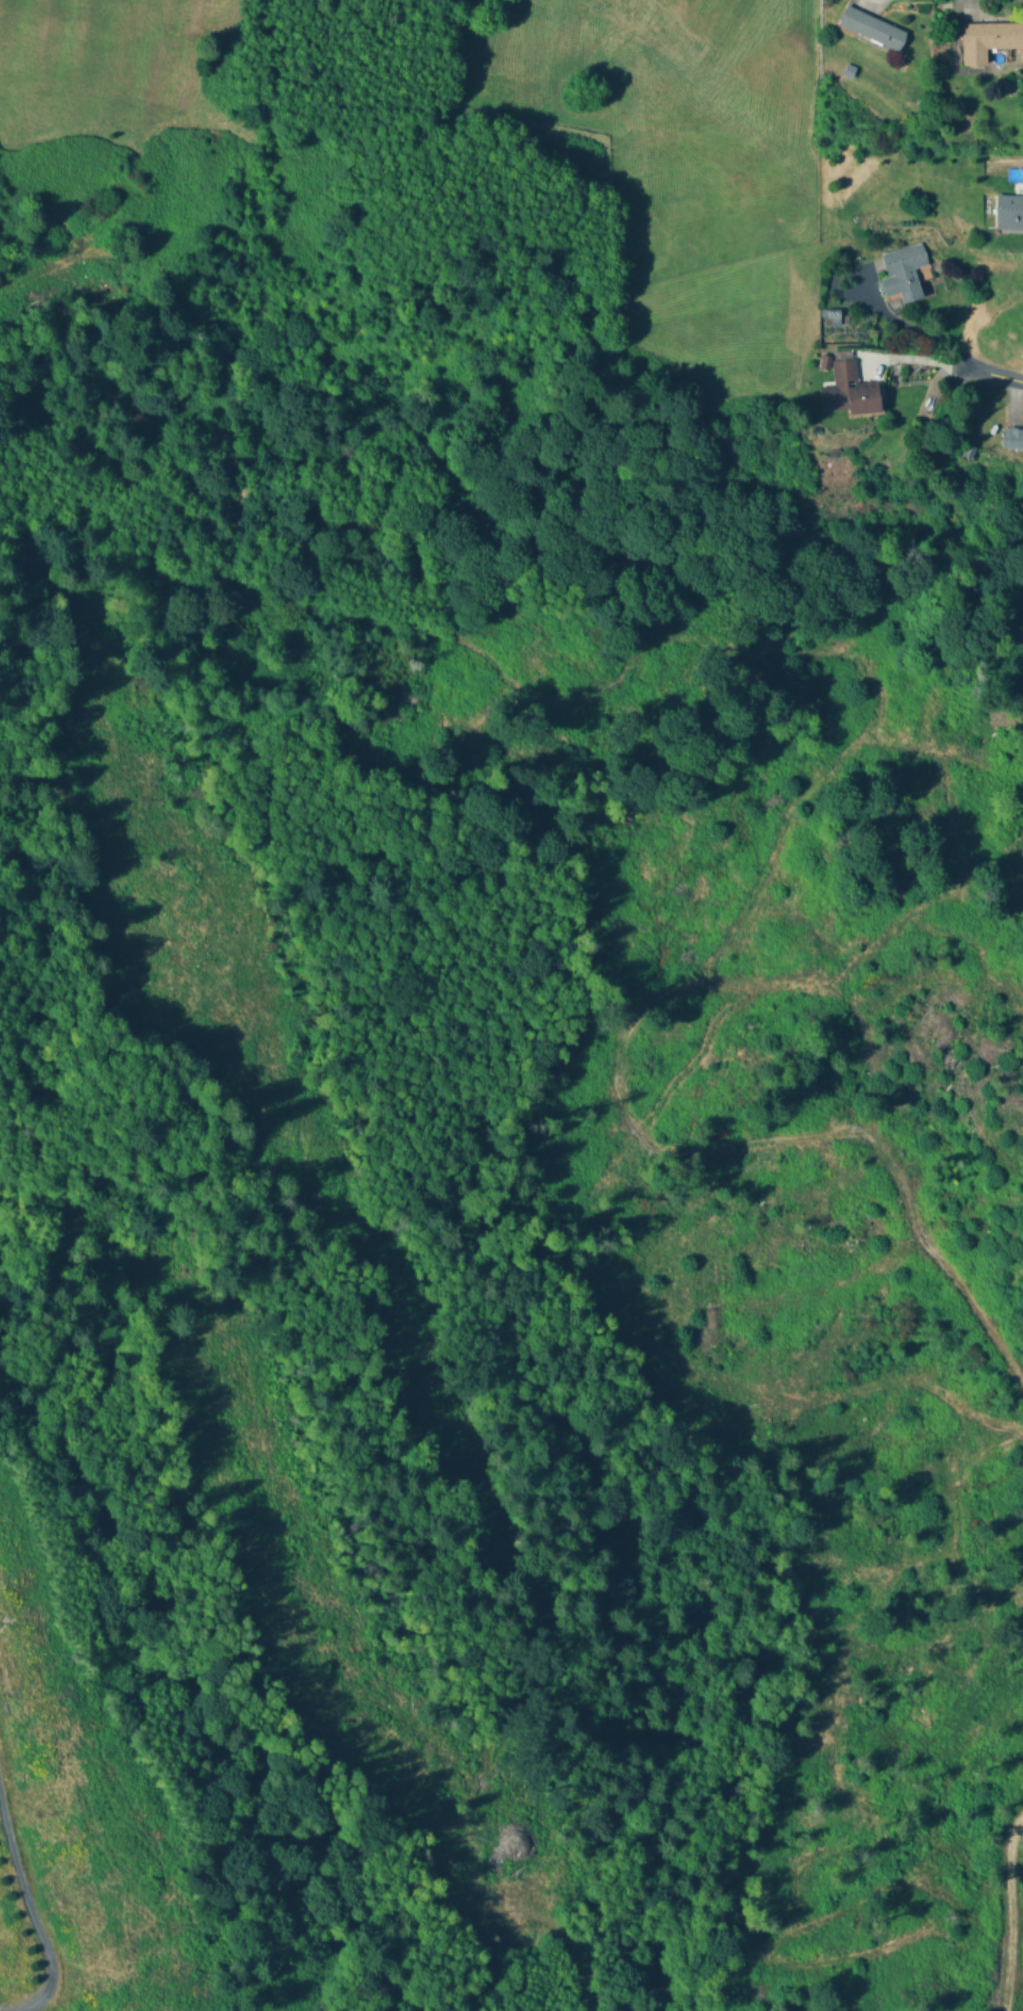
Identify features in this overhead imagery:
building: (872, 30)
building: (988, 42)
building: (1008, 215)
building: (903, 272)
road: (906, 329)
road: (987, 373)
building: (852, 391)
building: (1013, 439)
road: (30, 1906)

